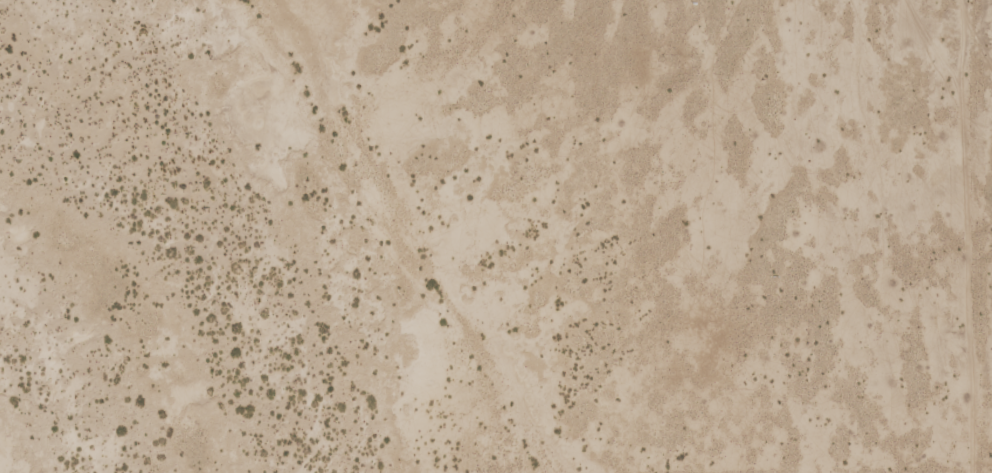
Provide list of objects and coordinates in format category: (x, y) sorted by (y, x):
road: (903, 236)

